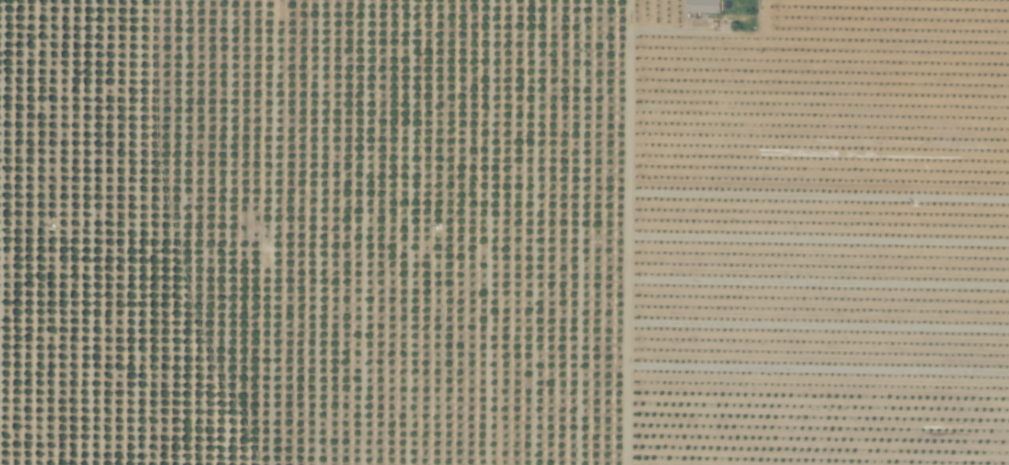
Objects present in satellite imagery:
building: (695, 4)
crop: (504, 232)

